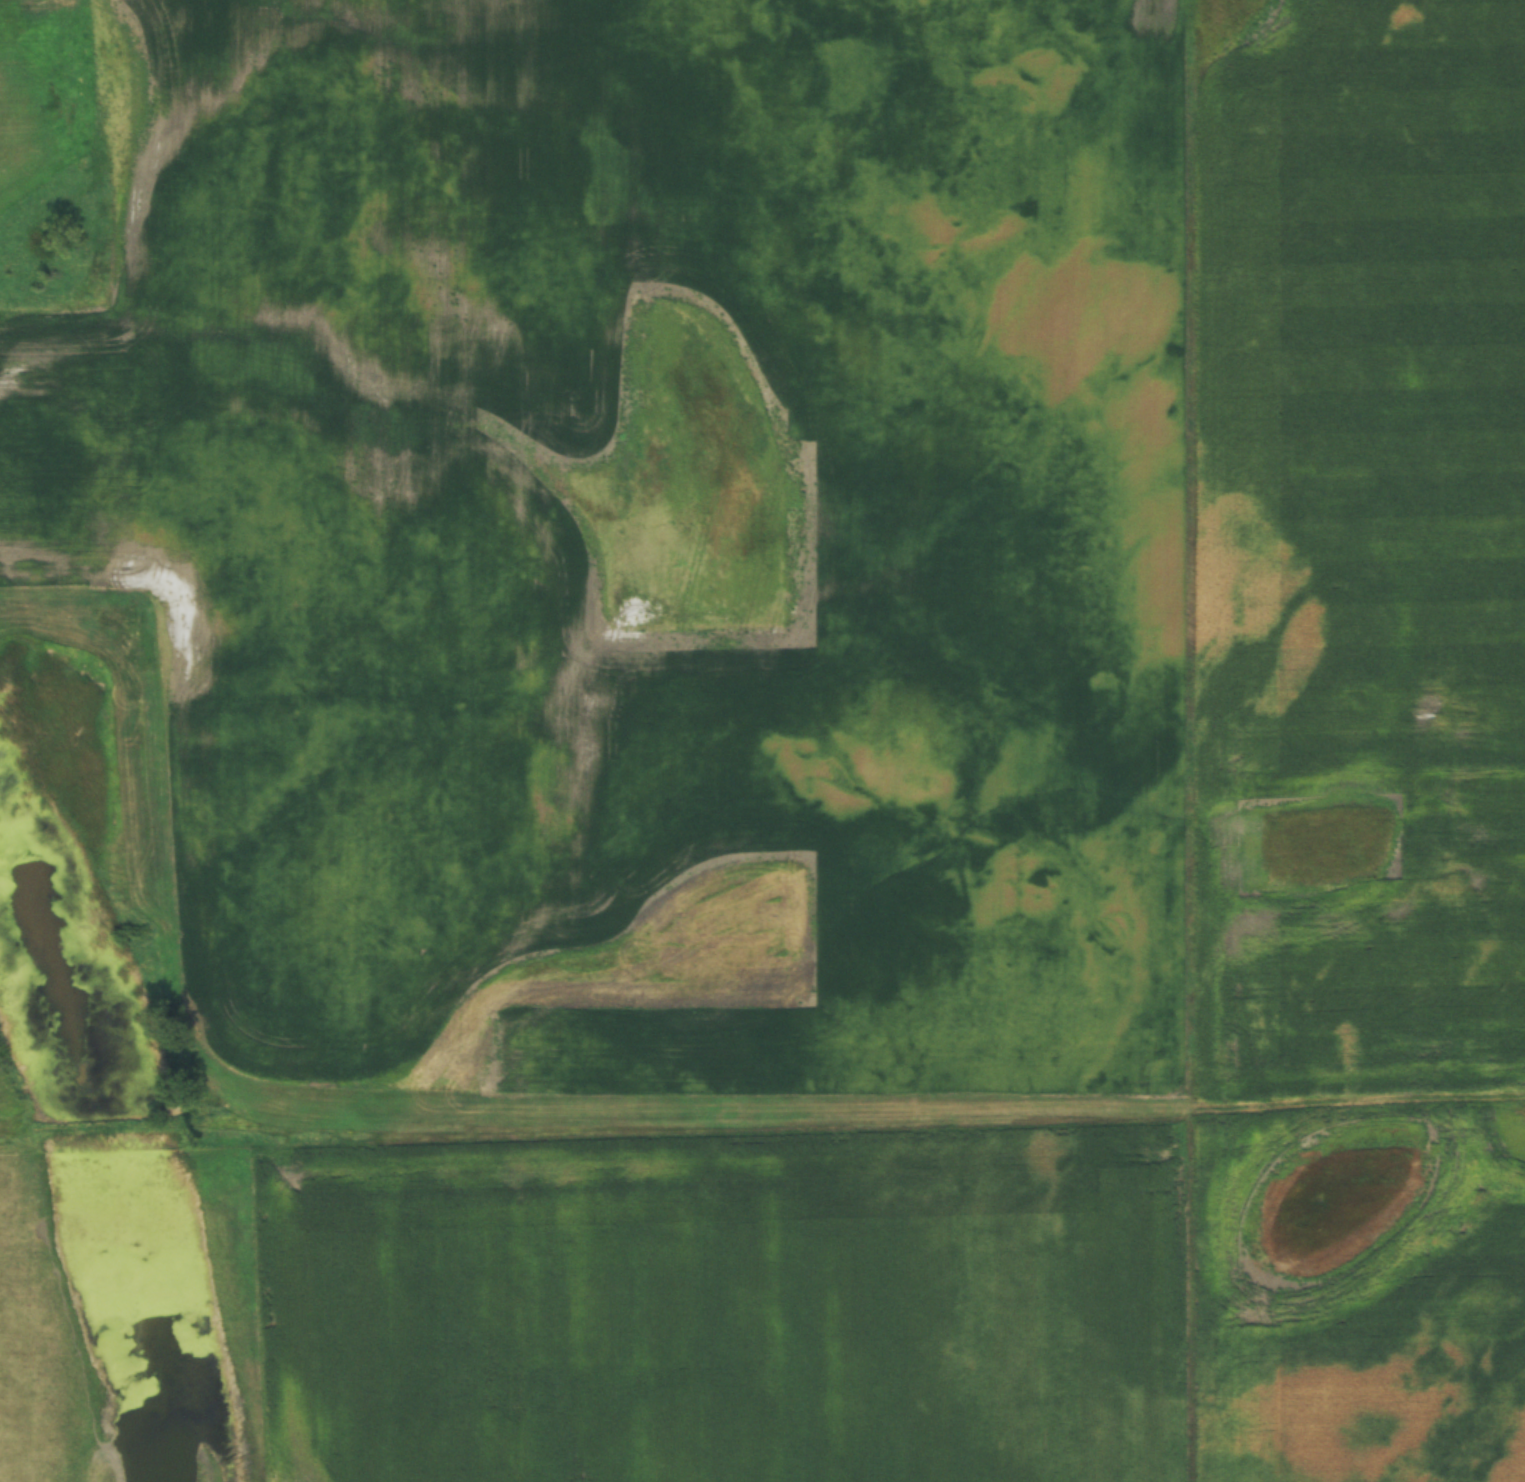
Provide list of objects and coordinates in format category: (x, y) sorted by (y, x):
road: (920, 1112)

